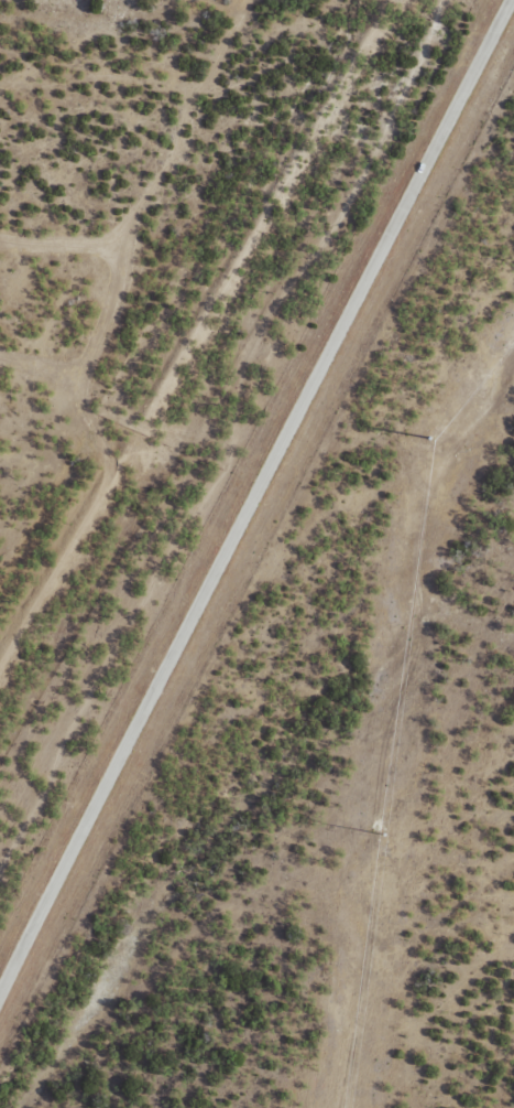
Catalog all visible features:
railway: (218, 365)
power tower: (430, 445)
road: (251, 503)
road: (409, 702)
river: (248, 821)
power tower: (384, 839)

